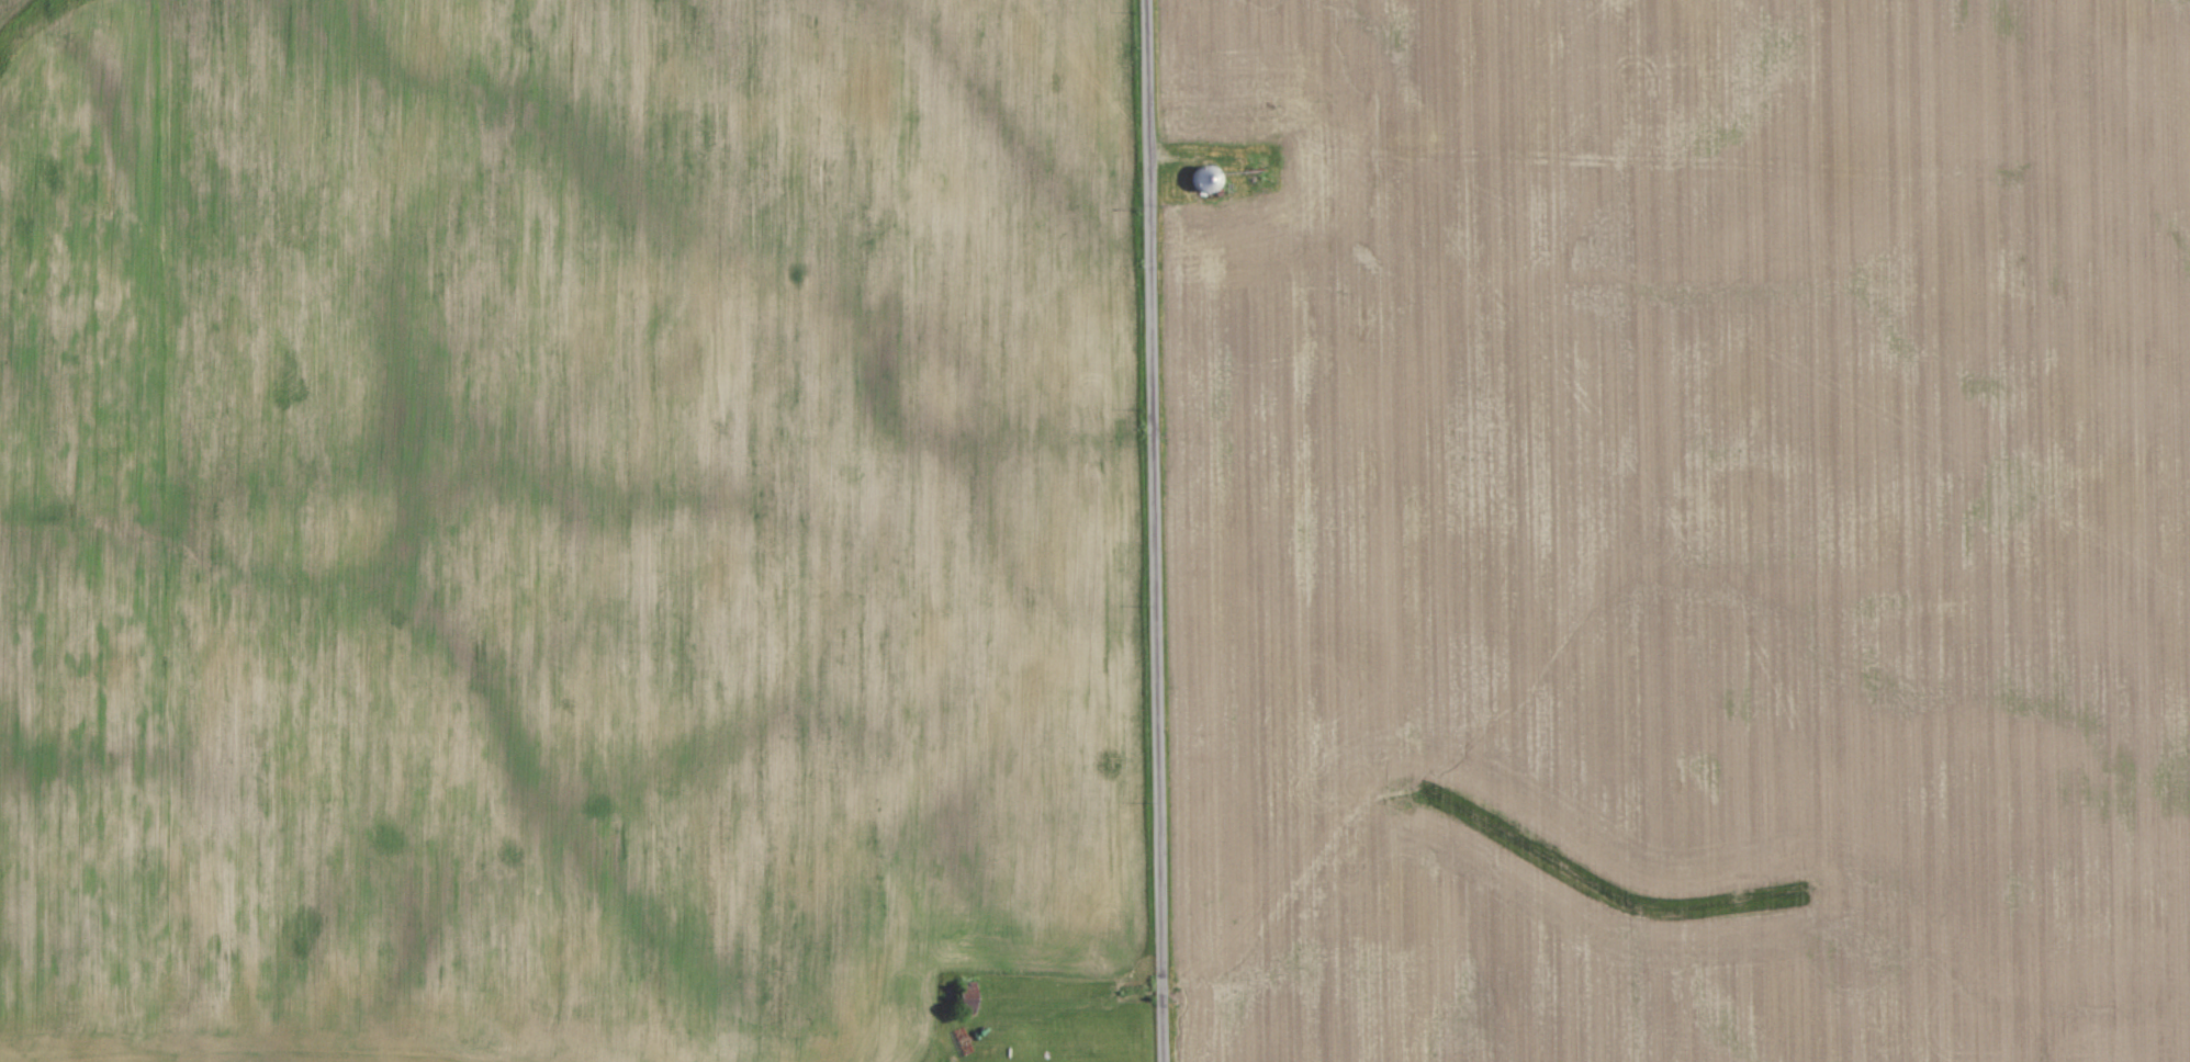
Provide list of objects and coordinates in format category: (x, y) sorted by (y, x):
road: (1154, 530)

